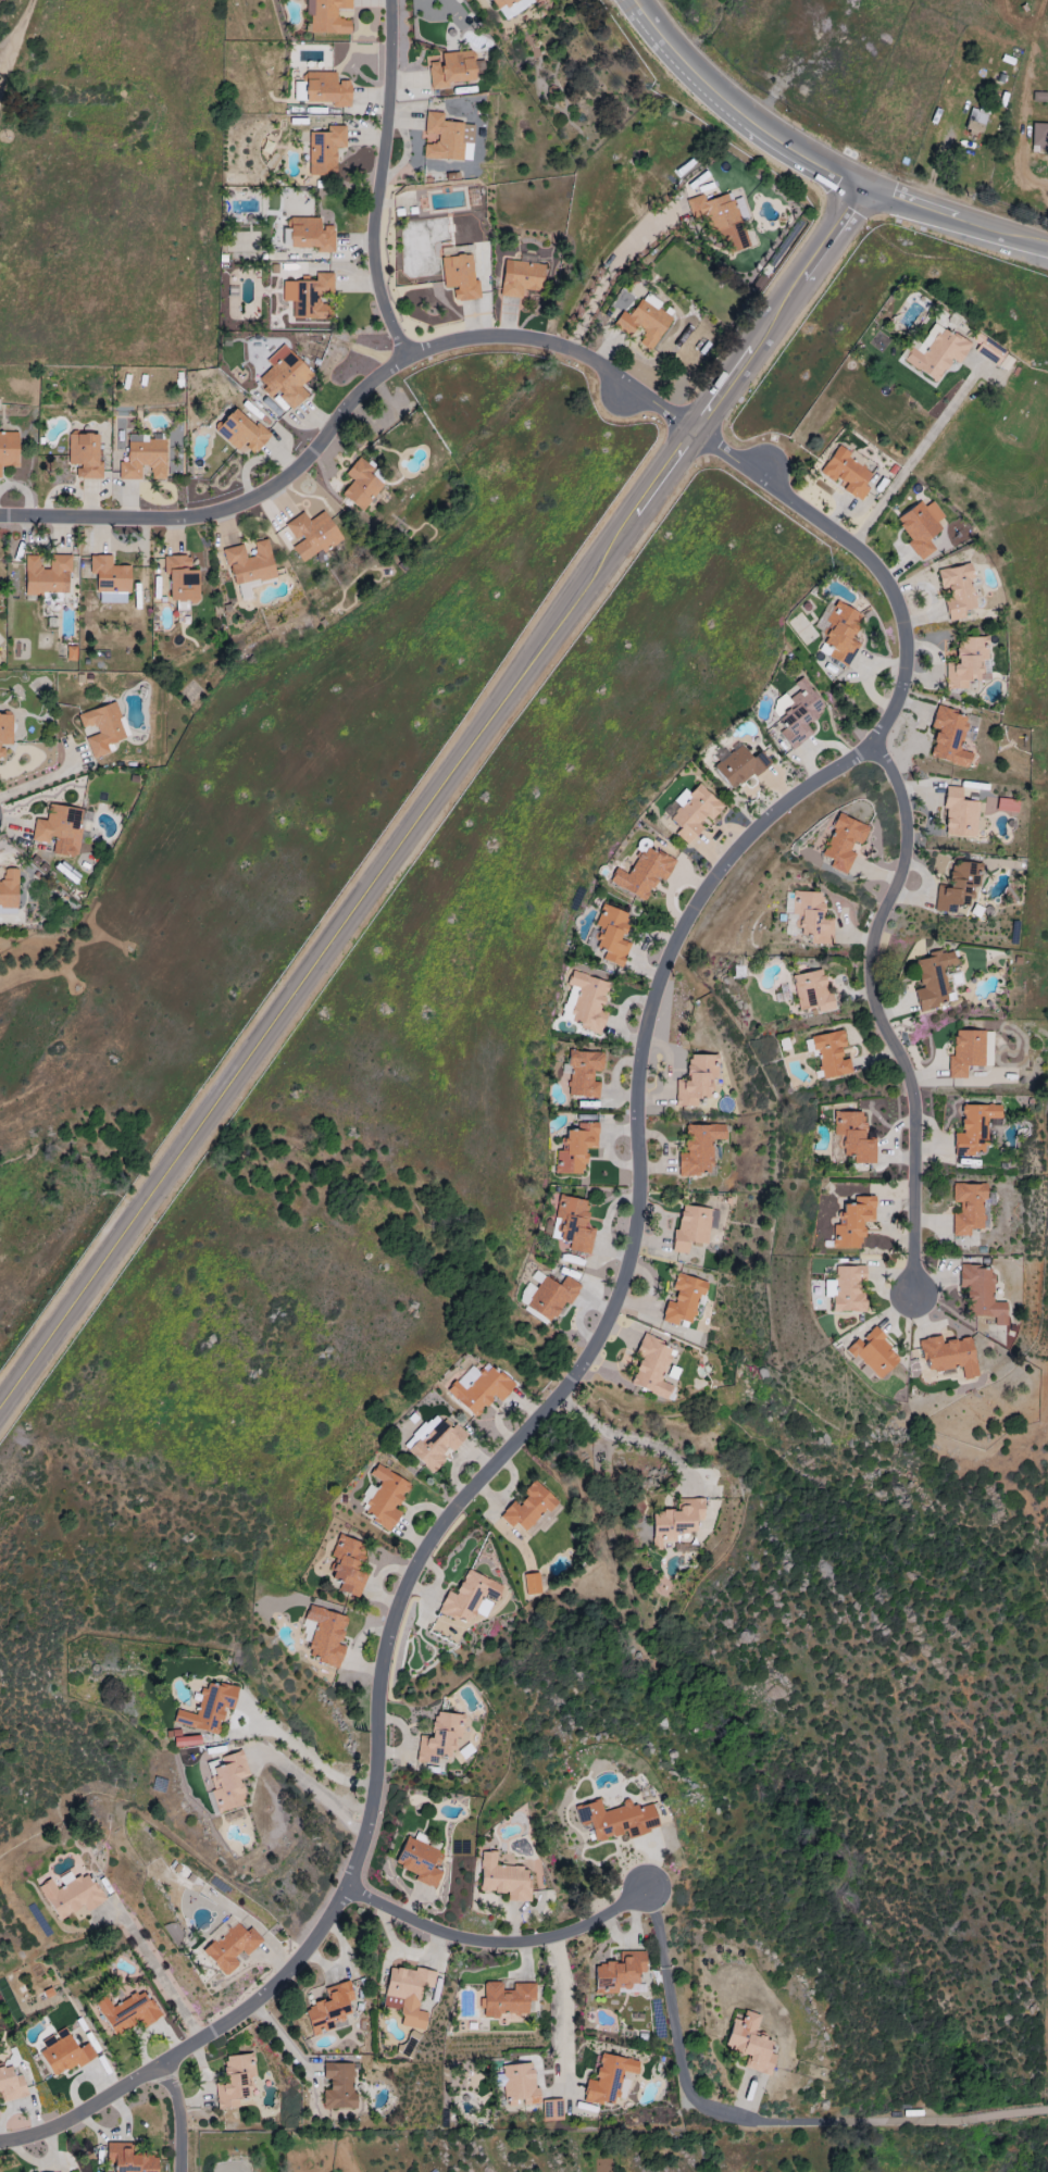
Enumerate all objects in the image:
building: (510, 7)
building: (326, 16)
road: (15, 39)
building: (449, 68)
building: (327, 89)
building: (975, 121)
building: (1039, 136)
building: (447, 138)
building: (324, 150)
road: (814, 164)
road: (378, 184)
building: (718, 220)
building: (310, 235)
building: (459, 277)
building: (520, 278)
building: (310, 298)
building: (644, 321)
building: (936, 352)
building: (285, 377)
road: (347, 409)
building: (241, 434)
building: (9, 450)
building: (84, 455)
building: (142, 458)
road: (903, 469)
building: (847, 474)
building: (360, 485)
building: (920, 527)
building: (311, 535)
building: (47, 575)
building: (109, 579)
building: (180, 579)
building: (957, 591)
building: (840, 634)
building: (70, 654)
building: (797, 713)
building: (101, 728)
building: (4, 733)
building: (949, 738)
building: (738, 767)
road: (50, 777)
road: (429, 800)
building: (1007, 806)
building: (693, 812)
building: (959, 814)
building: (59, 829)
building: (843, 842)
building: (641, 846)
building: (642, 874)
building: (957, 887)
building: (9, 891)
building: (812, 918)
building: (611, 935)
building: (934, 979)
building: (812, 993)
building: (588, 1002)
road: (877, 1019)
building: (970, 1052)
building: (831, 1054)
building: (583, 1073)
building: (697, 1078)
building: (974, 1128)
building: (853, 1136)
building: (575, 1148)
building: (698, 1148)
building: (968, 1208)
building: (852, 1222)
building: (573, 1223)
building: (690, 1227)
building: (845, 1288)
building: (981, 1293)
building: (548, 1296)
building: (684, 1299)
road: (609, 1315)
building: (874, 1353)
building: (949, 1355)
building: (651, 1366)
building: (478, 1388)
road: (629, 1436)
building: (433, 1443)
building: (385, 1497)
building: (527, 1507)
building: (676, 1521)
building: (348, 1565)
building: (532, 1584)
building: (469, 1597)
building: (325, 1635)
building: (208, 1708)
building: (439, 1737)
building: (186, 1740)
road: (303, 1753)
road: (310, 1783)
building: (616, 1820)
building: (419, 1862)
building: (503, 1878)
building: (71, 1896)
road: (495, 1945)
building: (230, 1947)
building: (619, 1972)
road: (154, 1973)
building: (407, 1995)
building: (506, 1999)
building: (329, 2009)
building: (126, 2012)
road: (558, 2012)
road: (288, 2043)
building: (750, 2043)
building: (63, 2052)
building: (608, 2080)
building: (234, 2081)
building: (520, 2083)
building: (10, 2085)
building: (338, 2087)
road: (177, 2114)
road: (759, 2122)
building: (128, 2159)

